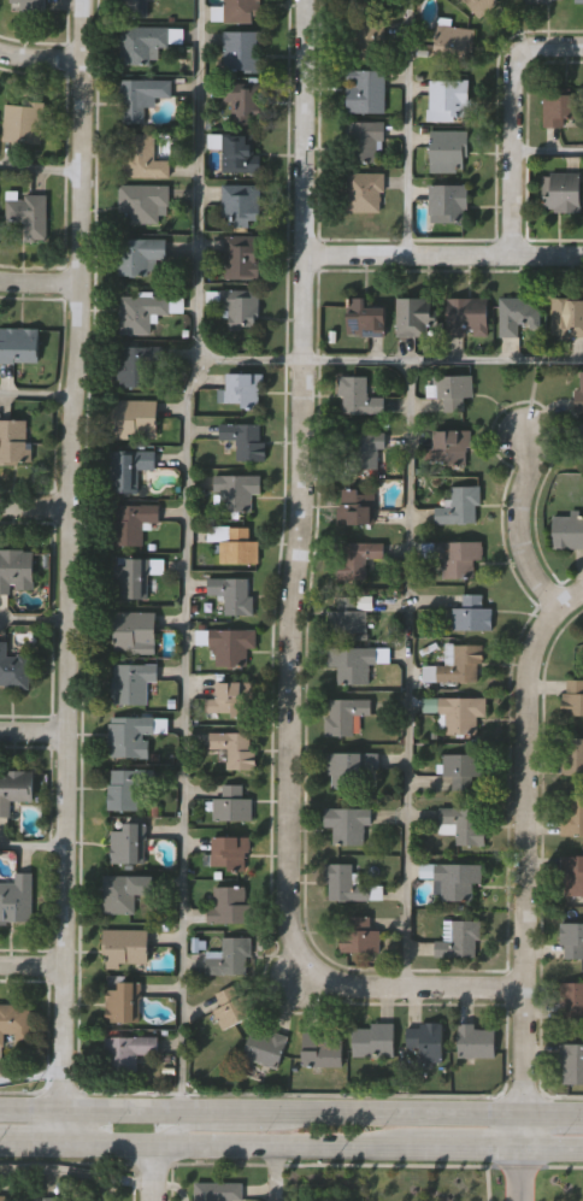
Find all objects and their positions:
building: (538, 1)
building: (579, 1)
building: (33, 4)
building: (369, 4)
building: (483, 6)
building: (136, 7)
building: (242, 10)
building: (369, 37)
building: (145, 42)
building: (455, 42)
building: (243, 48)
road: (40, 58)
building: (367, 89)
building: (145, 95)
building: (450, 98)
building: (245, 99)
building: (563, 106)
building: (25, 122)
road: (513, 122)
road: (410, 126)
building: (365, 139)
building: (452, 146)
building: (241, 152)
road: (548, 154)
building: (146, 157)
road: (40, 171)
building: (366, 190)
building: (566, 192)
building: (145, 201)
building: (242, 201)
building: (449, 201)
building: (29, 213)
road: (443, 254)
building: (141, 255)
building: (243, 255)
road: (39, 282)
building: (243, 307)
building: (142, 313)
building: (417, 314)
building: (469, 314)
building: (520, 314)
building: (367, 317)
building: (569, 317)
building: (19, 343)
road: (391, 361)
building: (140, 364)
building: (243, 388)
building: (455, 389)
building: (360, 395)
building: (579, 396)
road: (36, 398)
building: (136, 416)
building: (581, 429)
building: (247, 438)
building: (16, 445)
building: (453, 446)
building: (363, 447)
building: (130, 467)
building: (237, 490)
building: (461, 505)
road: (34, 507)
building: (358, 507)
building: (135, 522)
road: (517, 522)
building: (569, 530)
building: (241, 548)
road: (187, 554)
building: (460, 557)
building: (360, 558)
building: (17, 570)
road: (67, 572)
building: (137, 576)
building: (234, 593)
road: (291, 595)
building: (471, 614)
building: (349, 616)
road: (33, 623)
building: (135, 632)
building: (231, 644)
building: (357, 663)
building: (454, 664)
building: (14, 667)
road: (411, 673)
building: (130, 682)
building: (231, 697)
building: (572, 697)
building: (457, 713)
building: (344, 716)
road: (34, 730)
building: (128, 736)
building: (232, 748)
building: (572, 754)
building: (351, 769)
building: (461, 769)
building: (16, 787)
building: (126, 787)
building: (231, 802)
building: (573, 814)
building: (348, 824)
building: (464, 825)
building: (128, 842)
road: (33, 844)
building: (228, 852)
road: (525, 856)
building: (573, 872)
building: (458, 879)
building: (344, 883)
building: (124, 889)
building: (17, 897)
building: (228, 905)
building: (361, 935)
building: (460, 938)
building: (572, 938)
building: (126, 944)
building: (229, 955)
road: (31, 964)
building: (571, 1000)
building: (125, 1001)
building: (232, 1007)
building: (16, 1020)
building: (373, 1040)
building: (475, 1040)
building: (425, 1041)
building: (264, 1047)
building: (320, 1049)
building: (126, 1053)
building: (572, 1061)
road: (30, 1077)
road: (290, 1111)
road: (179, 1129)
road: (30, 1146)
road: (473, 1148)
road: (553, 1148)
road: (241, 1149)
road: (277, 1174)
road: (523, 1174)
road: (153, 1176)
building: (218, 1190)
building: (2, 1197)
building: (52, 1199)

